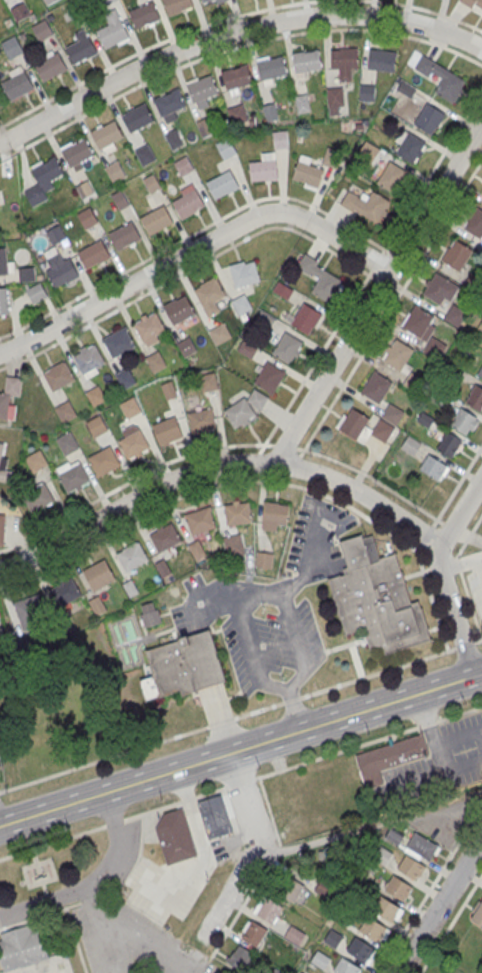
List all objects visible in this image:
building: (205, 1)
building: (220, 1)
building: (50, 2)
building: (106, 2)
building: (471, 3)
building: (176, 6)
road: (429, 10)
building: (20, 12)
building: (75, 13)
building: (144, 16)
building: (42, 31)
road: (231, 32)
building: (113, 35)
road: (156, 43)
building: (11, 47)
road: (232, 48)
building: (81, 51)
building: (344, 59)
building: (306, 62)
building: (382, 62)
building: (50, 68)
building: (272, 69)
building: (237, 78)
building: (18, 87)
building: (450, 88)
building: (202, 89)
building: (367, 93)
building: (335, 102)
building: (169, 104)
building: (236, 114)
building: (137, 119)
building: (429, 121)
building: (205, 128)
building: (107, 136)
building: (174, 140)
building: (280, 140)
building: (227, 149)
building: (412, 149)
building: (77, 153)
building: (146, 156)
building: (184, 166)
building: (264, 171)
building: (47, 172)
building: (116, 172)
building: (307, 172)
building: (393, 179)
building: (152, 184)
building: (222, 185)
building: (85, 190)
building: (120, 201)
building: (188, 205)
building: (374, 207)
building: (88, 219)
building: (157, 221)
building: (475, 225)
road: (193, 233)
building: (56, 234)
building: (125, 237)
road: (194, 250)
building: (94, 256)
building: (457, 257)
road: (402, 259)
building: (3, 261)
road: (187, 270)
road: (370, 270)
building: (62, 274)
building: (244, 274)
building: (27, 275)
road: (378, 280)
building: (327, 288)
building: (438, 290)
building: (283, 291)
road: (377, 292)
building: (36, 294)
building: (210, 297)
building: (4, 302)
building: (241, 305)
building: (179, 311)
building: (455, 317)
building: (306, 320)
building: (265, 321)
building: (417, 323)
building: (149, 328)
building: (220, 335)
building: (119, 345)
building: (186, 348)
building: (287, 349)
building: (434, 349)
building: (247, 350)
building: (398, 356)
building: (89, 360)
building: (156, 363)
road: (350, 371)
building: (480, 374)
building: (58, 377)
building: (270, 379)
building: (125, 380)
building: (208, 382)
building: (414, 383)
building: (376, 388)
building: (169, 390)
building: (9, 397)
building: (96, 397)
building: (476, 399)
building: (245, 408)
building: (130, 409)
building: (65, 413)
building: (393, 415)
building: (202, 422)
building: (463, 422)
building: (354, 425)
building: (97, 427)
building: (166, 431)
building: (383, 432)
building: (67, 446)
building: (134, 446)
road: (284, 446)
building: (411, 446)
building: (449, 446)
road: (303, 449)
building: (1, 457)
road: (254, 458)
building: (36, 461)
building: (103, 462)
road: (295, 463)
road: (219, 466)
building: (433, 468)
building: (73, 479)
road: (131, 479)
road: (256, 482)
road: (457, 485)
building: (39, 499)
building: (238, 515)
building: (275, 516)
building: (200, 522)
road: (451, 528)
building: (2, 529)
road: (468, 534)
road: (423, 536)
road: (471, 537)
building: (165, 538)
building: (132, 558)
road: (457, 563)
road: (461, 563)
road: (440, 572)
building: (100, 578)
parking lot: (476, 589)
building: (65, 593)
building: (379, 599)
road: (471, 603)
road: (240, 605)
building: (97, 606)
parking lot: (273, 606)
building: (28, 611)
building: (151, 616)
road: (478, 641)
road: (345, 644)
road: (464, 645)
road: (356, 660)
building: (189, 665)
road: (227, 719)
road: (217, 725)
road: (368, 741)
road: (240, 750)
building: (391, 758)
parking lot: (435, 764)
road: (240, 782)
road: (174, 802)
road: (229, 810)
road: (193, 812)
building: (216, 816)
road: (114, 821)
road: (368, 827)
building: (176, 836)
road: (238, 836)
building: (394, 836)
road: (52, 841)
road: (233, 843)
building: (422, 845)
road: (252, 851)
road: (34, 855)
building: (382, 855)
road: (36, 862)
road: (179, 863)
building: (411, 866)
road: (263, 869)
road: (41, 882)
road: (93, 884)
parking lot: (163, 885)
road: (44, 887)
building: (287, 887)
building: (324, 887)
building: (398, 887)
road: (429, 888)
road: (47, 895)
road: (170, 903)
road: (439, 905)
road: (65, 907)
building: (384, 907)
building: (269, 909)
building: (478, 915)
road: (450, 922)
building: (372, 928)
road: (101, 929)
building: (254, 933)
building: (294, 934)
road: (147, 935)
building: (333, 937)
parking lot: (131, 940)
building: (22, 947)
building: (360, 949)
building: (240, 957)
building: (320, 959)
road: (204, 964)
building: (346, 966)

